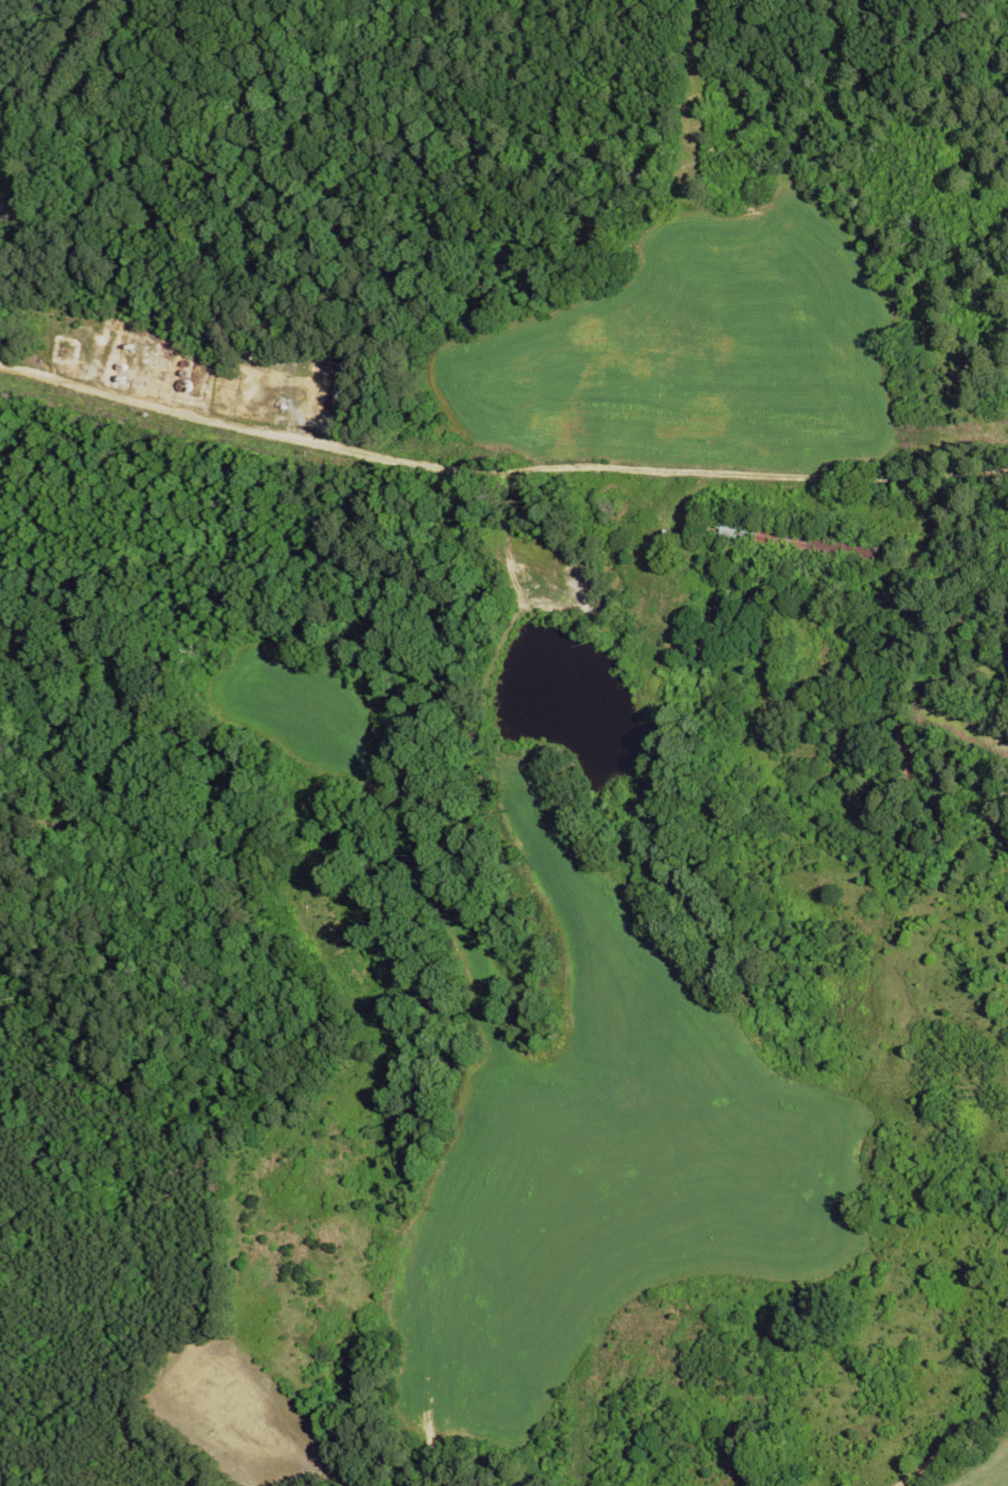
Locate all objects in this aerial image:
road: (498, 472)
building: (789, 543)
building: (908, 755)
road: (953, 1444)

